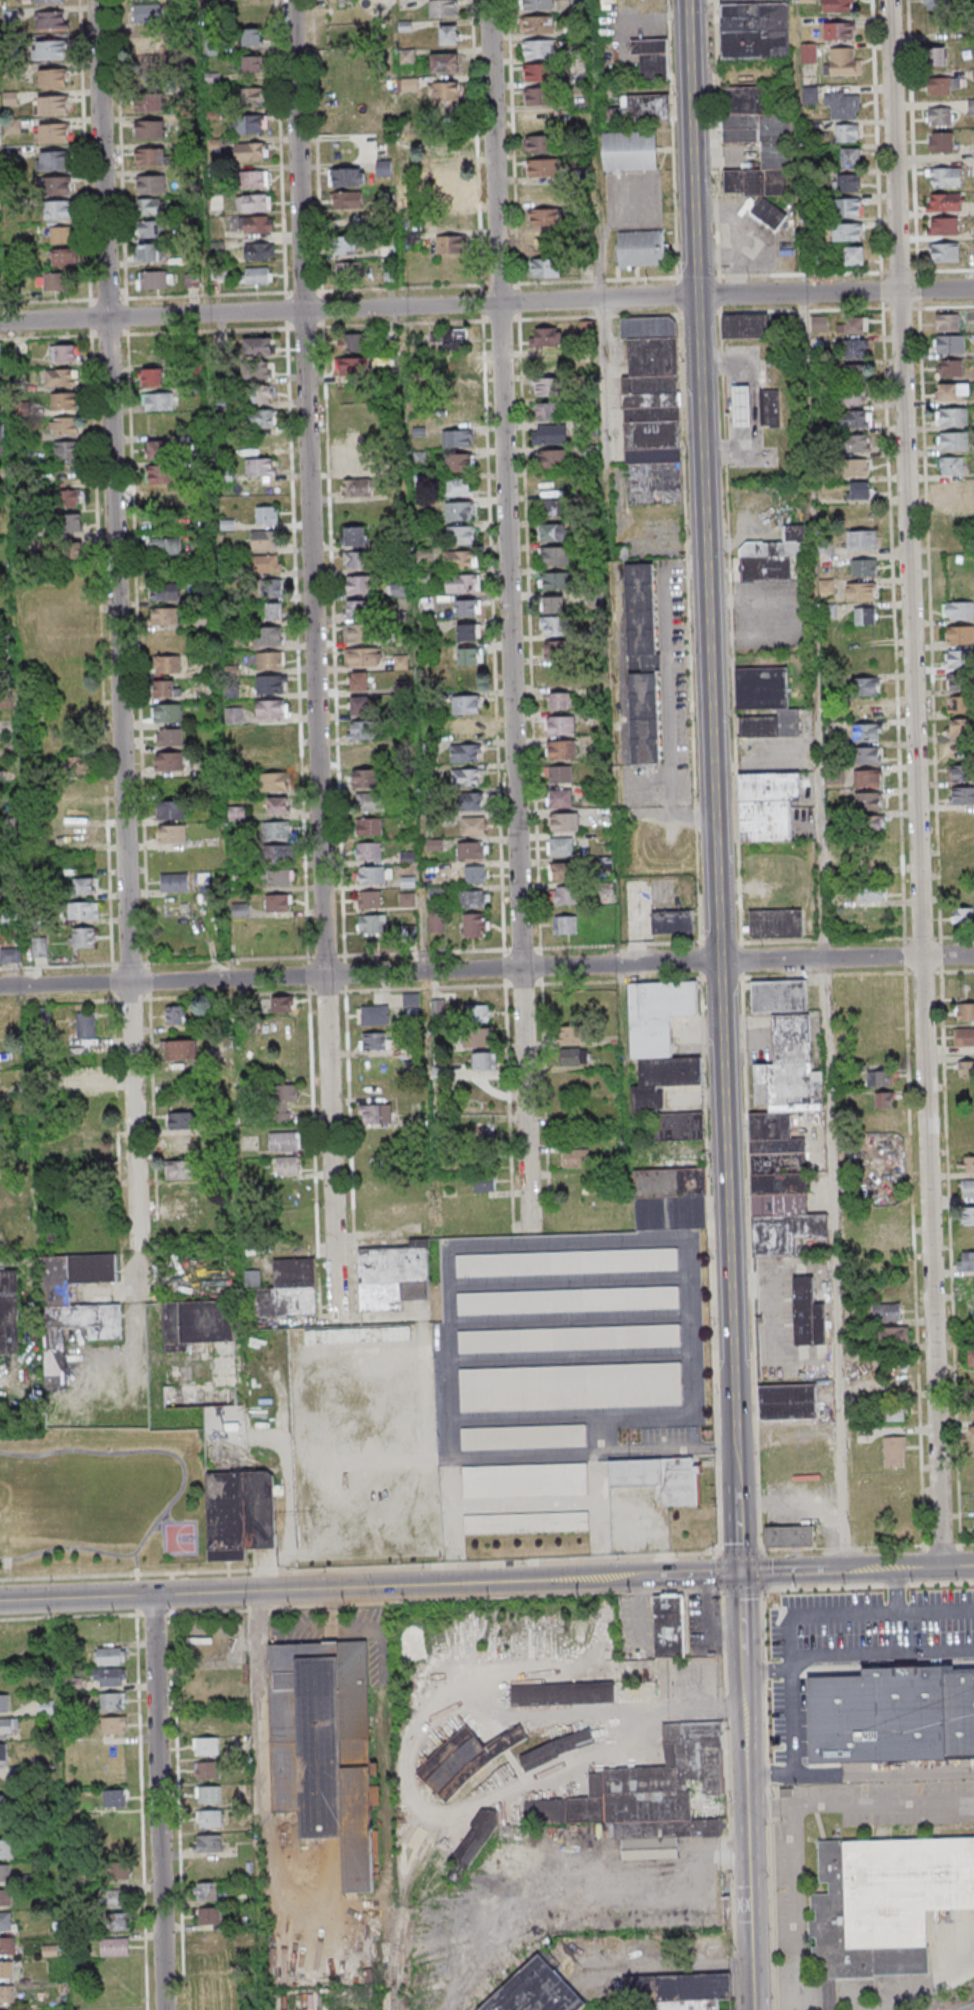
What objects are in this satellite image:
building: (49, 1)
building: (935, 4)
building: (538, 5)
building: (837, 6)
building: (443, 8)
building: (146, 13)
building: (52, 20)
building: (538, 24)
building: (754, 30)
building: (838, 32)
building: (449, 34)
building: (251, 37)
building: (146, 45)
building: (50, 49)
building: (538, 49)
building: (936, 55)
building: (651, 58)
building: (808, 58)
building: (444, 62)
building: (843, 63)
building: (252, 65)
building: (538, 72)
building: (53, 77)
building: (942, 85)
building: (445, 91)
building: (249, 96)
building: (537, 96)
building: (10, 98)
building: (149, 102)
building: (53, 104)
building: (842, 105)
building: (971, 106)
building: (643, 108)
building: (940, 117)
building: (540, 120)
building: (248, 124)
building: (12, 126)
building: (149, 128)
building: (756, 128)
building: (53, 132)
building: (847, 132)
building: (941, 142)
building: (448, 143)
building: (540, 143)
building: (251, 151)
building: (630, 151)
building: (150, 156)
building: (850, 157)
building: (56, 159)
building: (543, 167)
building: (384, 168)
building: (449, 170)
building: (347, 177)
building: (945, 177)
building: (255, 179)
building: (847, 183)
building: (151, 184)
building: (57, 185)
building: (450, 195)
building: (347, 199)
building: (943, 202)
building: (253, 203)
building: (150, 206)
building: (849, 208)
building: (57, 209)
building: (768, 213)
building: (548, 216)
building: (365, 220)
building: (449, 220)
building: (258, 224)
building: (943, 226)
building: (151, 229)
building: (848, 232)
building: (60, 234)
building: (413, 240)
building: (540, 241)
building: (450, 244)
building: (346, 245)
building: (641, 248)
building: (259, 251)
building: (148, 252)
building: (944, 252)
building: (65, 256)
building: (854, 256)
building: (545, 267)
building: (348, 271)
building: (390, 274)
building: (256, 275)
building: (155, 279)
building: (191, 280)
building: (56, 282)
road: (486, 304)
building: (819, 323)
building: (948, 323)
building: (745, 326)
building: (851, 326)
building: (586, 329)
building: (547, 336)
building: (451, 339)
building: (352, 342)
building: (950, 344)
building: (258, 346)
building: (855, 349)
building: (63, 353)
building: (454, 366)
building: (353, 367)
building: (951, 369)
building: (259, 372)
road: (604, 373)
building: (854, 373)
building: (61, 377)
building: (151, 377)
building: (546, 386)
building: (458, 390)
building: (953, 391)
building: (259, 395)
building: (852, 397)
building: (64, 401)
building: (158, 401)
road: (730, 405)
building: (744, 407)
building: (772, 408)
building: (547, 410)
building: (652, 411)
building: (458, 415)
building: (951, 416)
building: (260, 419)
building: (855, 420)
building: (64, 425)
building: (550, 434)
building: (457, 439)
building: (951, 440)
building: (856, 443)
building: (67, 449)
building: (157, 449)
building: (552, 459)
building: (458, 463)
building: (352, 464)
building: (951, 465)
building: (260, 467)
building: (857, 467)
building: (162, 474)
road: (908, 477)
road: (810, 479)
building: (357, 487)
building: (457, 487)
building: (952, 489)
building: (859, 490)
building: (66, 497)
building: (164, 499)
building: (553, 507)
building: (460, 511)
building: (266, 515)
building: (70, 523)
building: (553, 532)
building: (461, 535)
building: (353, 536)
building: (861, 539)
building: (265, 540)
building: (166, 546)
building: (825, 547)
building: (72, 551)
building: (555, 555)
building: (775, 557)
building: (460, 559)
building: (355, 561)
building: (264, 564)
building: (863, 567)
building: (555, 580)
building: (462, 583)
building: (359, 585)
building: (271, 589)
building: (164, 591)
building: (860, 591)
building: (553, 605)
building: (468, 607)
building: (357, 610)
building: (958, 611)
building: (273, 612)
road: (512, 614)
building: (865, 615)
building: (165, 616)
road: (119, 626)
building: (552, 626)
building: (468, 632)
building: (358, 634)
building: (960, 635)
building: (268, 636)
building: (166, 641)
building: (558, 651)
building: (363, 657)
building: (467, 657)
building: (959, 659)
building: (271, 660)
road: (316, 660)
building: (400, 662)
building: (643, 663)
building: (166, 664)
building: (359, 681)
building: (958, 682)
building: (272, 684)
building: (867, 686)
building: (164, 688)
building: (562, 700)
building: (766, 703)
building: (360, 705)
building: (466, 705)
building: (958, 705)
building: (865, 709)
building: (272, 710)
building: (168, 713)
building: (234, 716)
building: (562, 726)
building: (961, 727)
building: (466, 729)
building: (362, 730)
building: (867, 732)
building: (273, 735)
building: (170, 737)
building: (561, 750)
building: (466, 753)
building: (360, 754)
building: (867, 755)
building: (169, 762)
building: (78, 766)
building: (960, 772)
building: (560, 775)
building: (466, 777)
building: (868, 777)
building: (365, 778)
building: (273, 782)
building: (961, 795)
building: (560, 799)
building: (868, 800)
building: (369, 802)
building: (473, 802)
building: (767, 805)
building: (277, 806)
building: (172, 809)
building: (564, 823)
building: (869, 824)
building: (472, 826)
building: (368, 827)
building: (275, 831)
building: (174, 833)
building: (80, 837)
building: (560, 848)
building: (472, 850)
building: (369, 852)
building: (870, 854)
building: (278, 855)
building: (963, 864)
building: (562, 871)
building: (475, 874)
building: (372, 876)
building: (278, 878)
building: (174, 882)
building: (84, 885)
building: (605, 890)
building: (870, 892)
building: (567, 896)
building: (404, 899)
building: (473, 899)
building: (369, 901)
building: (278, 903)
building: (83, 910)
building: (240, 910)
building: (963, 916)
building: (672, 922)
building: (776, 924)
building: (372, 925)
building: (473, 925)
building: (564, 926)
building: (82, 937)
building: (39, 947)
building: (10, 955)
road: (947, 955)
road: (460, 970)
building: (779, 995)
building: (598, 998)
building: (411, 1000)
building: (280, 1004)
road: (719, 1004)
road: (700, 1005)
building: (965, 1011)
building: (477, 1013)
building: (176, 1014)
building: (374, 1014)
building: (85, 1025)
building: (572, 1034)
building: (477, 1038)
building: (964, 1038)
building: (375, 1041)
building: (181, 1050)
building: (573, 1056)
building: (664, 1057)
building: (483, 1062)
building: (965, 1070)
building: (84, 1076)
building: (880, 1079)
building: (883, 1101)
building: (283, 1102)
building: (376, 1115)
building: (183, 1120)
building: (884, 1122)
building: (283, 1142)
building: (783, 1143)
building: (182, 1145)
building: (89, 1149)
building: (575, 1159)
building: (968, 1164)
building: (287, 1167)
building: (181, 1169)
building: (484, 1184)
building: (968, 1188)
building: (190, 1195)
building: (670, 1198)
building: (968, 1215)
building: (885, 1243)
road: (472, 1244)
road: (931, 1261)
building: (966, 1261)
building: (567, 1262)
road: (836, 1264)
building: (392, 1277)
building: (289, 1289)
building: (568, 1300)
building: (74, 1308)
building: (9, 1312)
building: (888, 1312)
building: (807, 1314)
building: (197, 1323)
building: (894, 1336)
building: (569, 1338)
building: (971, 1358)
building: (570, 1386)
building: (972, 1396)
building: (787, 1402)
building: (895, 1414)
building: (972, 1435)
building: (523, 1437)
building: (895, 1451)
building: (660, 1478)
building: (525, 1480)
road: (180, 1490)
park: (104, 1499)
building: (240, 1514)
building: (526, 1522)
building: (790, 1537)
park: (179, 1538)
road: (136, 1563)
road: (957, 1566)
road: (919, 1568)
road: (263, 1570)
road: (817, 1570)
traffic signals: (739, 1573)
road: (445, 1583)
road: (898, 1590)
road: (75, 1597)
road: (137, 1604)
road: (937, 1610)
building: (672, 1627)
road: (789, 1642)
road: (881, 1652)
building: (110, 1655)
building: (202, 1660)
road: (766, 1671)
building: (109, 1677)
building: (565, 1696)
building: (112, 1701)
building: (4, 1703)
building: (47, 1706)
building: (894, 1718)
building: (113, 1725)
building: (9, 1726)
building: (576, 1744)
building: (206, 1746)
building: (325, 1750)
building: (3, 1755)
building: (541, 1759)
building: (466, 1762)
building: (207, 1769)
road: (859, 1775)
building: (644, 1786)
building: (208, 1794)
building: (114, 1798)
road: (157, 1802)
building: (6, 1803)
road: (859, 1804)
building: (209, 1818)
building: (662, 1838)
building: (208, 1843)
building: (476, 1845)
building: (7, 1848)
railway: (414, 1868)
building: (119, 1870)
building: (5, 1872)
building: (206, 1891)
building: (4, 1897)
building: (886, 1907)
road: (795, 1908)
building: (209, 1915)
building: (6, 1921)
building: (117, 1921)
building: (210, 1943)
building: (7, 1946)
building: (113, 1947)
building: (6, 1970)
road: (919, 1989)
building: (539, 1991)
building: (675, 1991)
building: (6, 1994)
building: (716, 2005)
building: (686, 2006)
railway: (973, 2009)

